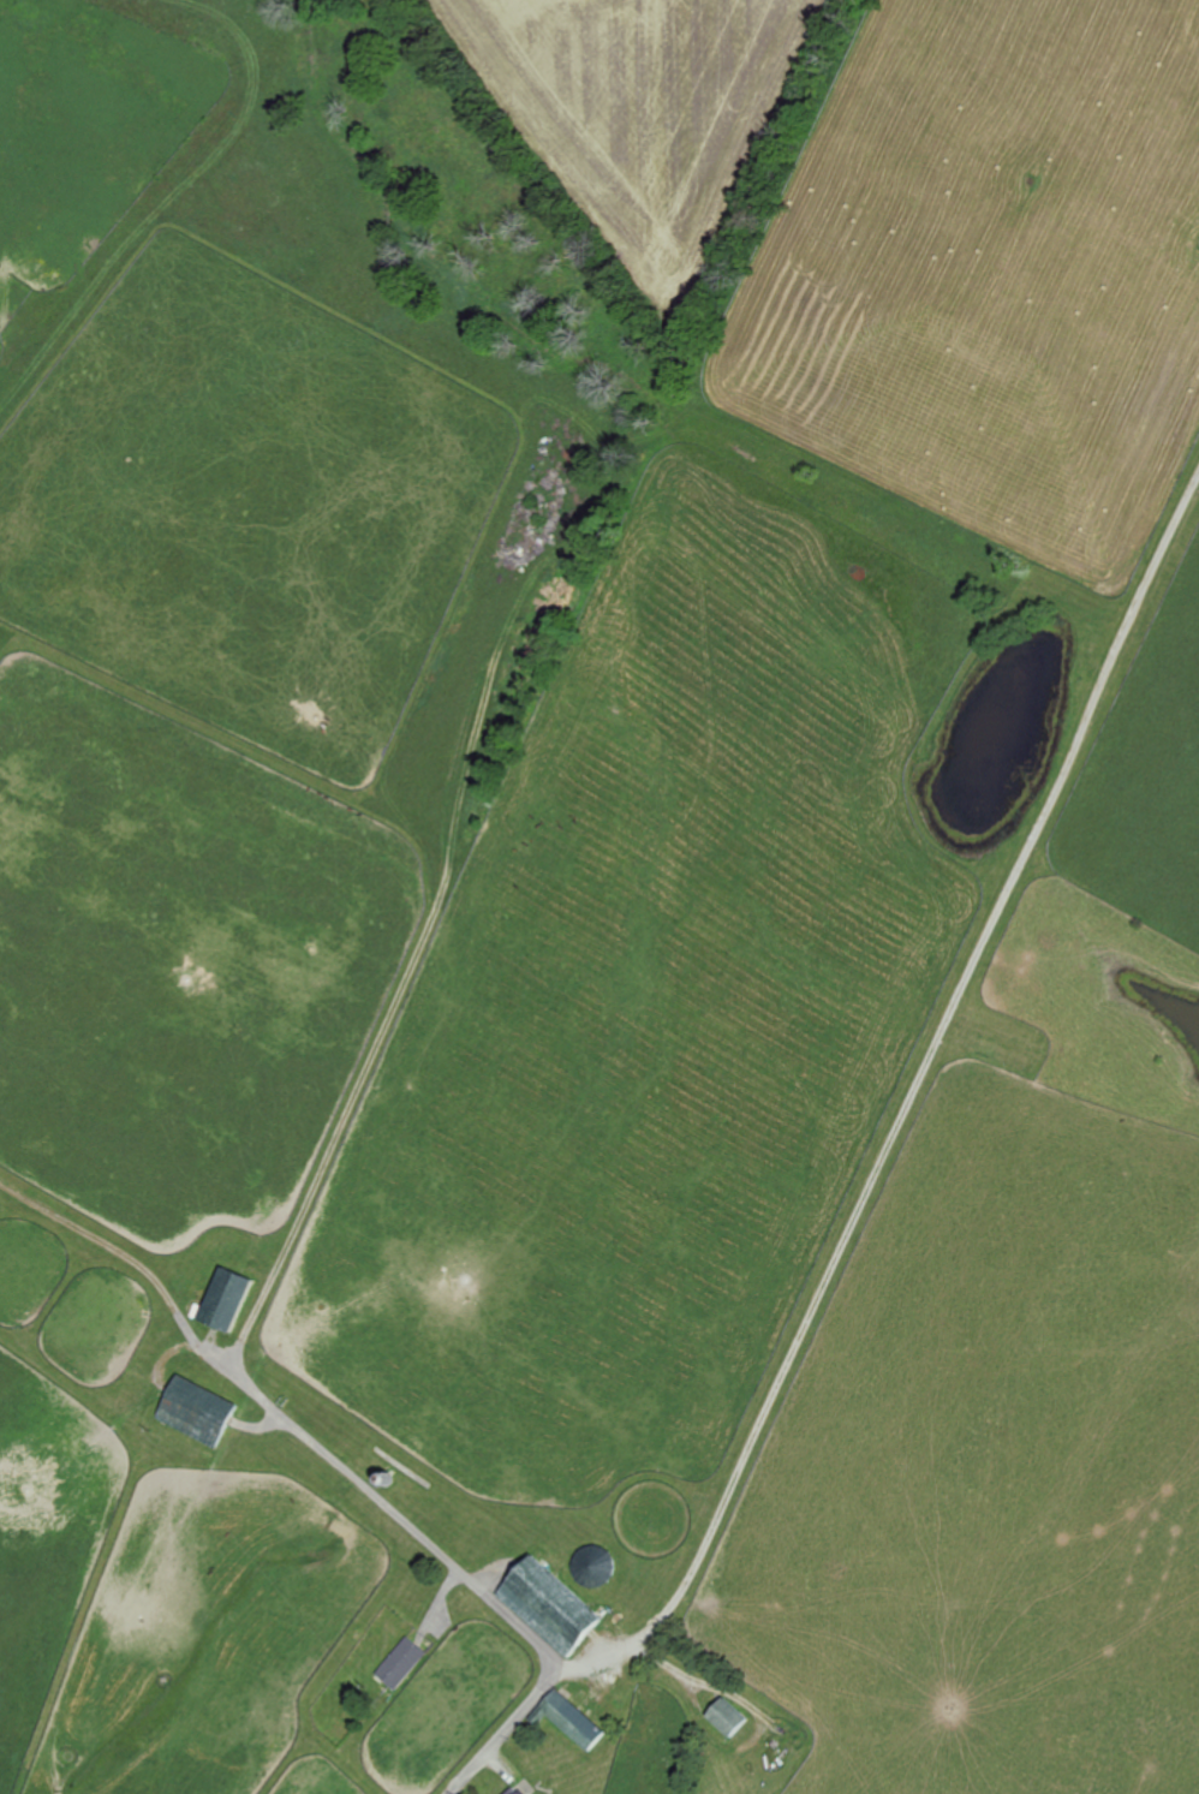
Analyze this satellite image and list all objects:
road: (107, 1254)
building: (229, 1299)
building: (198, 1408)
building: (387, 1478)
silo: (387, 1478)
road: (441, 1554)
building: (595, 1567)
silo: (595, 1567)
building: (550, 1602)
building: (401, 1661)
building: (573, 1720)
building: (525, 1793)

